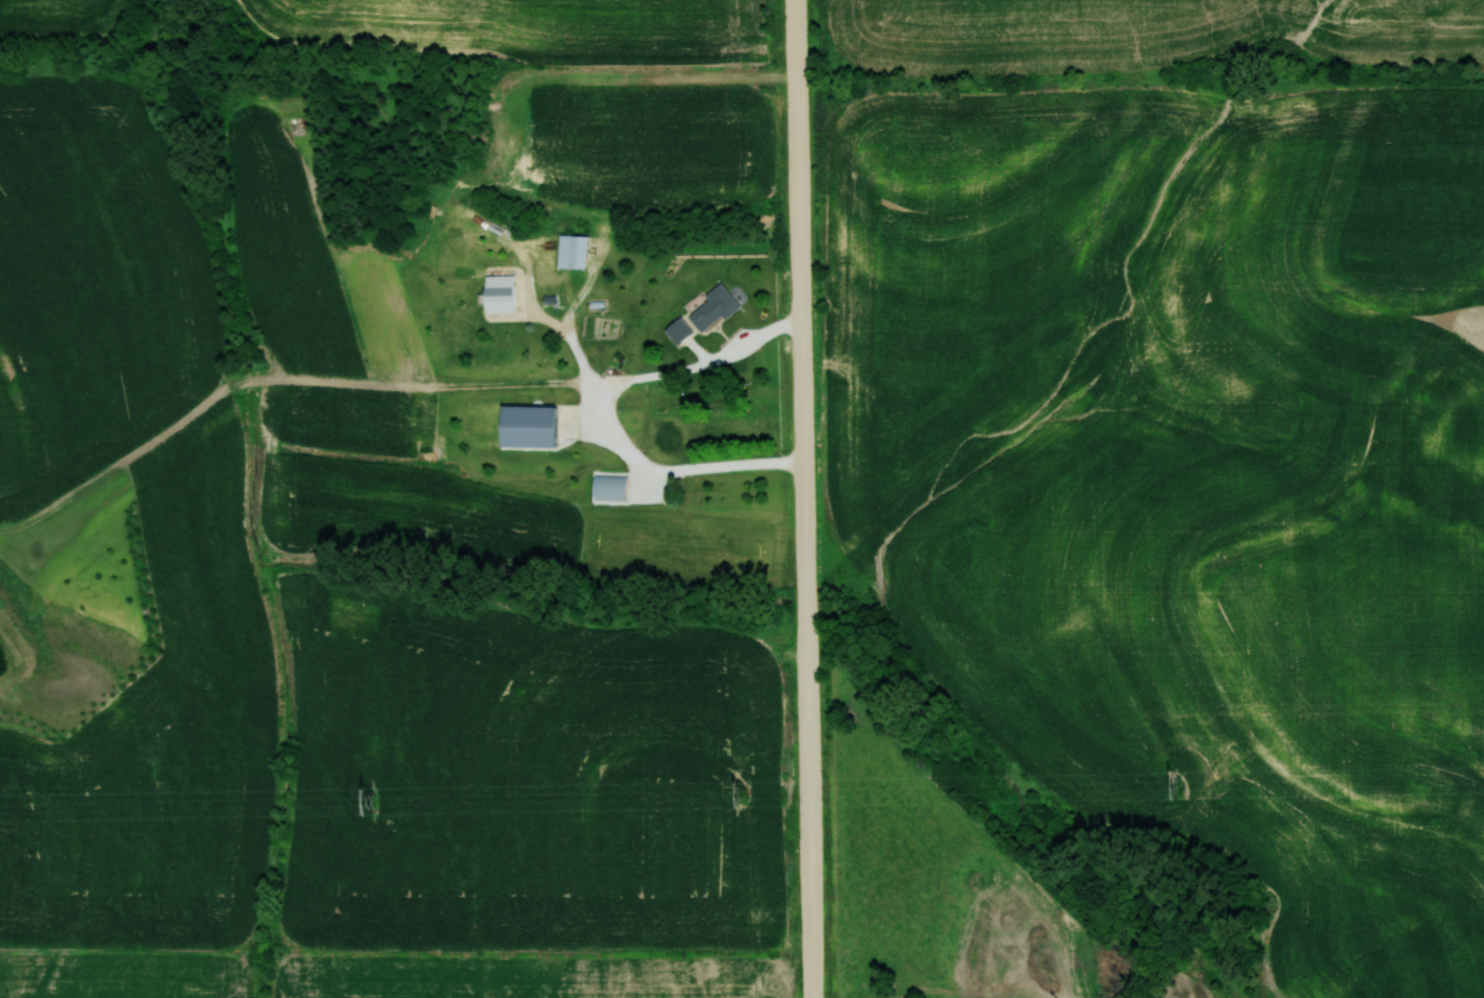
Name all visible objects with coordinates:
building: (577, 251)
building: (505, 294)
building: (718, 308)
building: (682, 331)
building: (533, 427)
building: (613, 488)
road: (836, 498)
power tower: (1179, 786)
power tower: (743, 795)
power tower: (368, 802)

